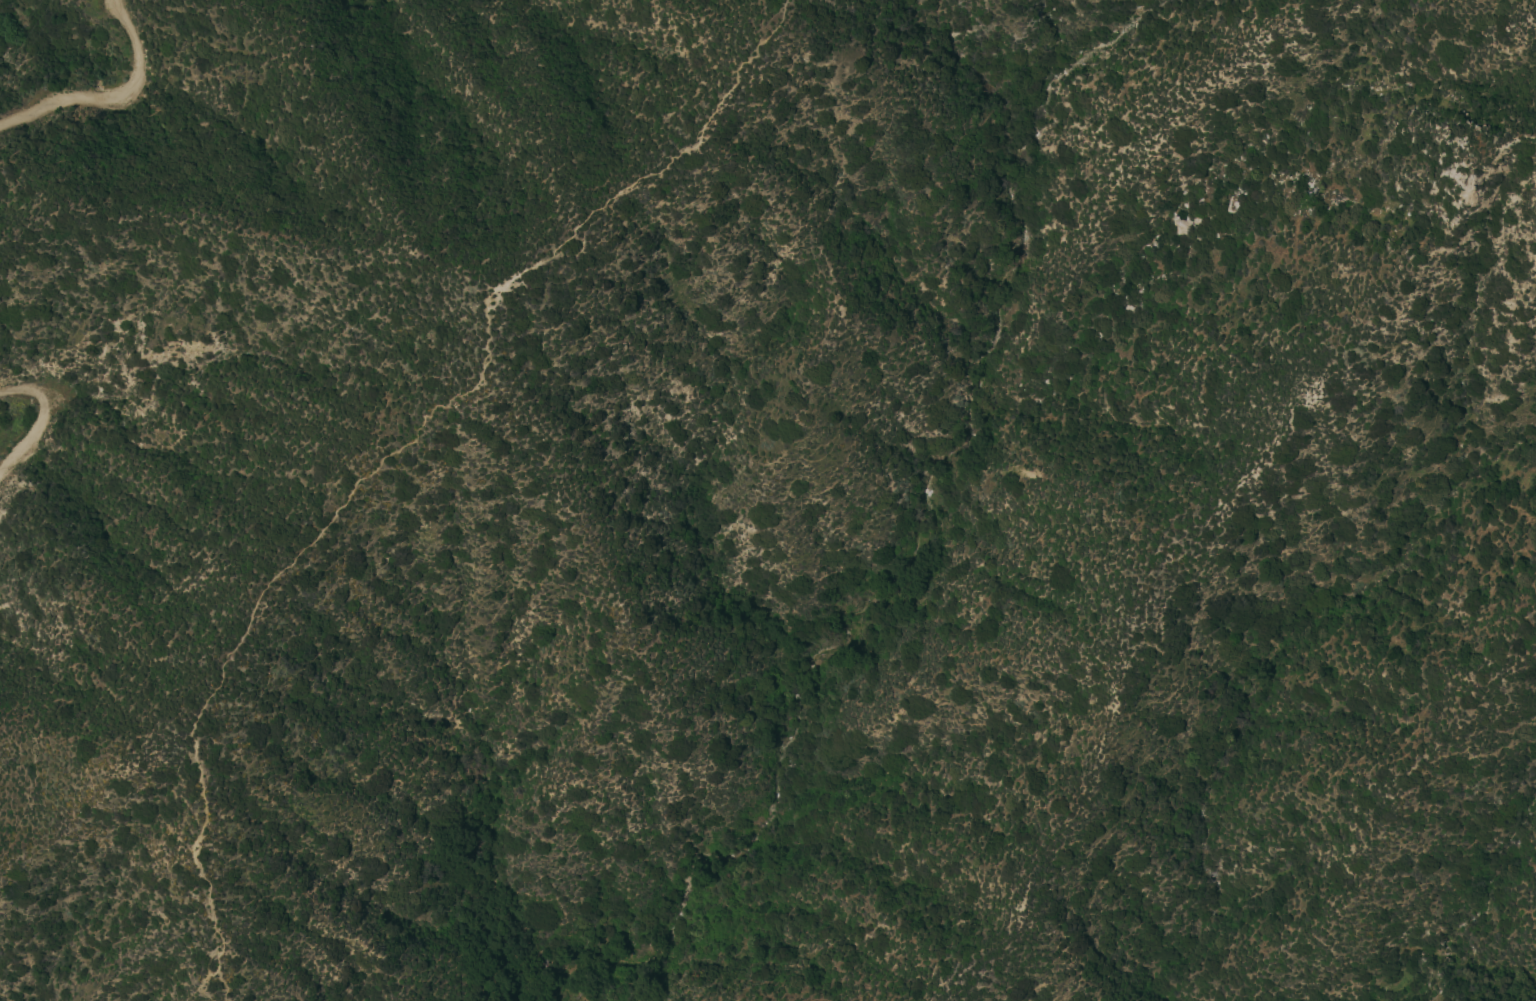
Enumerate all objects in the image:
road: (112, 98)
road: (42, 416)
road: (399, 448)

